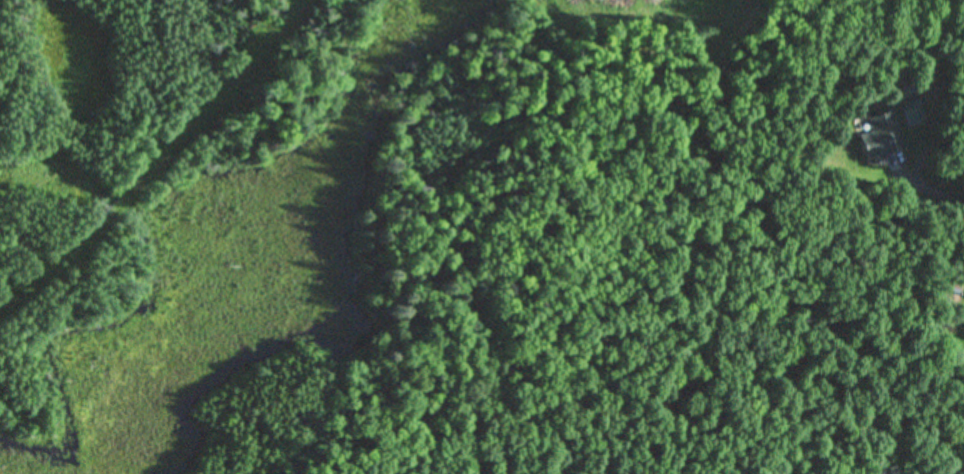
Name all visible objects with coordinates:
building: (881, 138)
airport: (154, 229)

